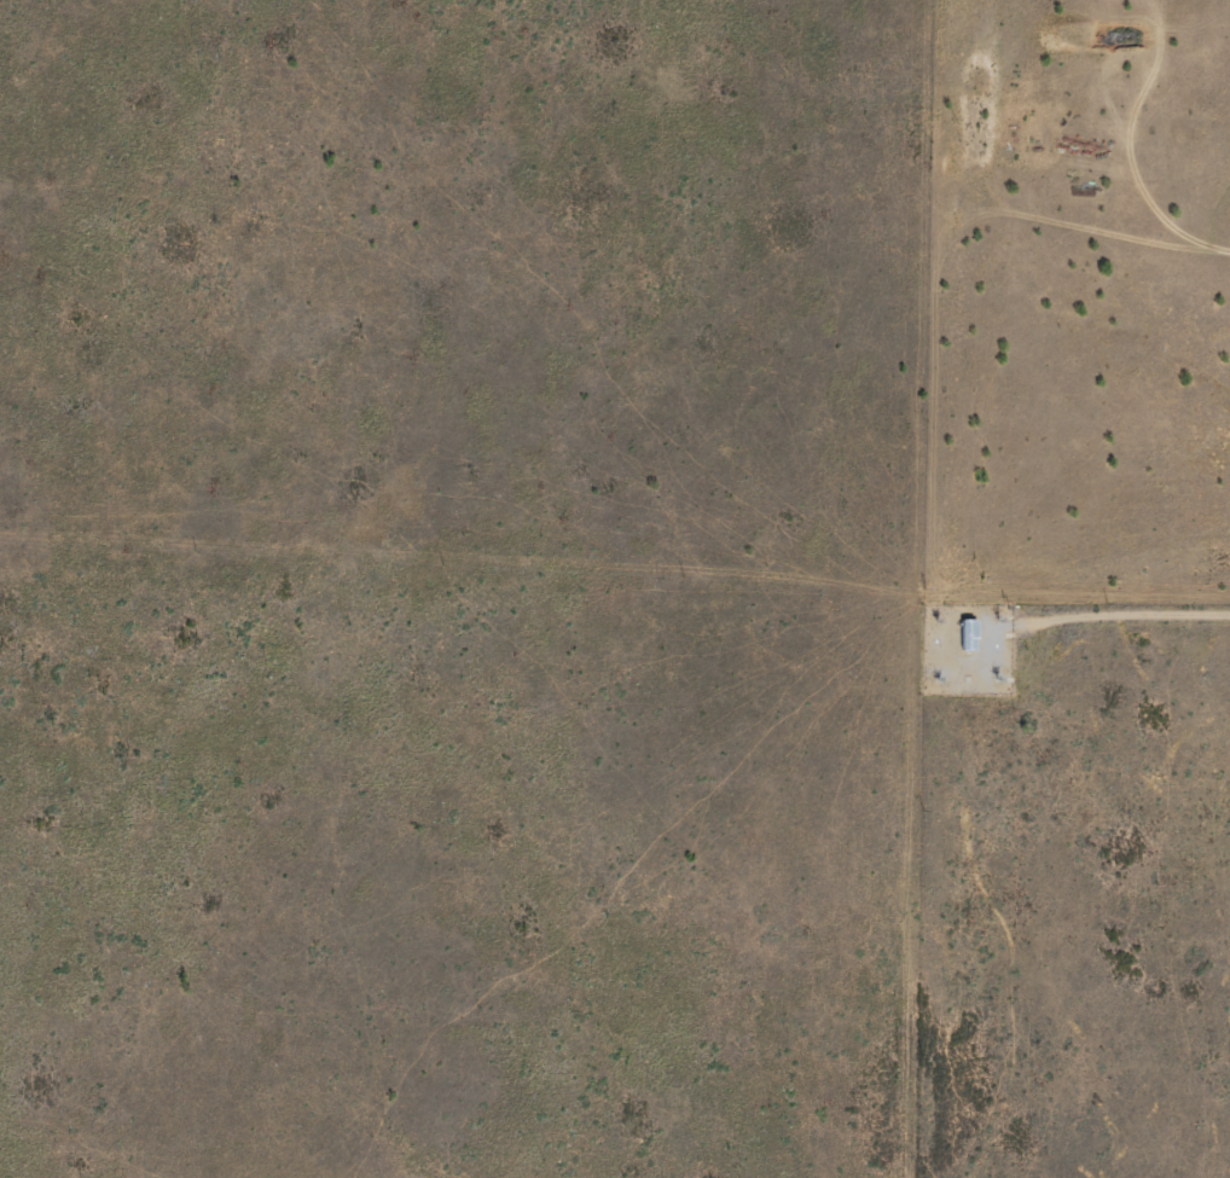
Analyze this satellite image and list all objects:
road: (1184, 616)
building: (967, 636)

